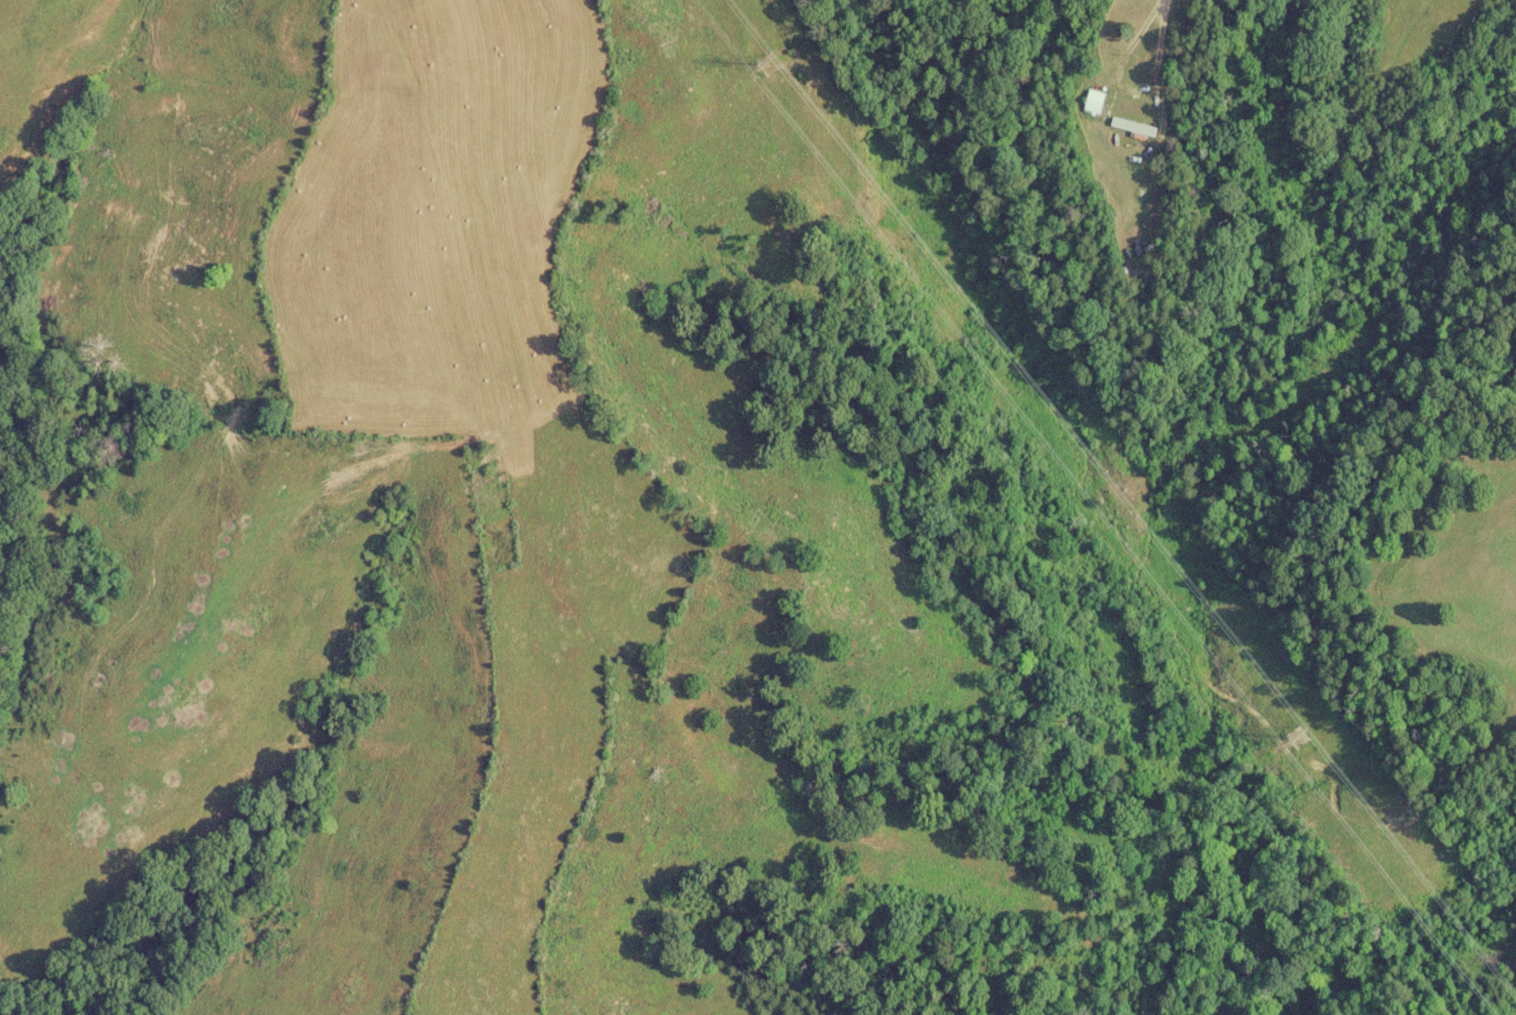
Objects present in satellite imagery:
road: (1164, 22)
building: (1094, 103)
building: (1133, 111)

